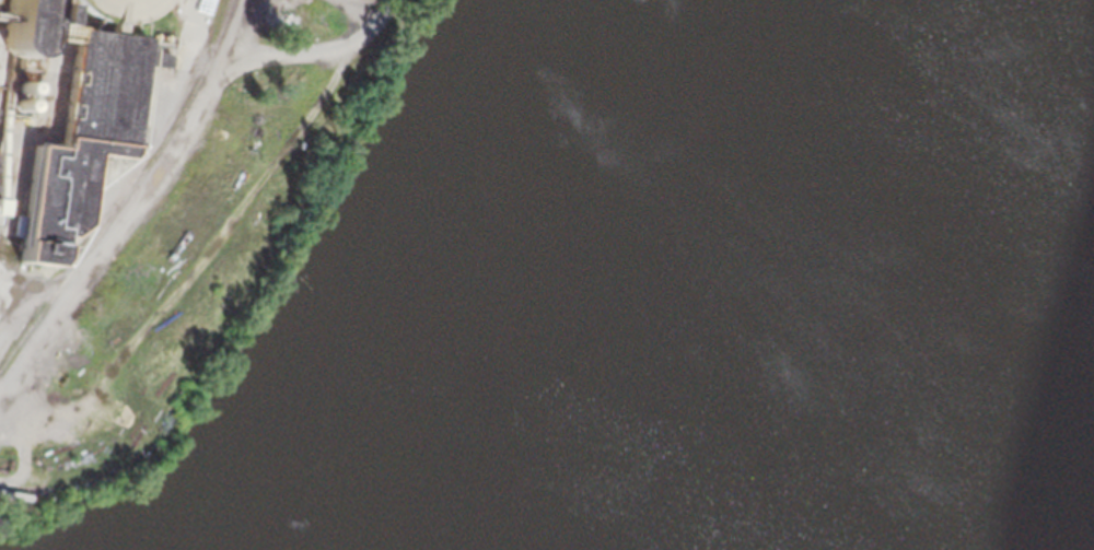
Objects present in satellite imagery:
road: (366, 5)
building: (125, 10)
building: (47, 12)
building: (26, 28)
road: (316, 52)
building: (30, 93)
building: (84, 136)
railway: (127, 191)
building: (1, 206)
river: (782, 274)
building: (19, 495)

